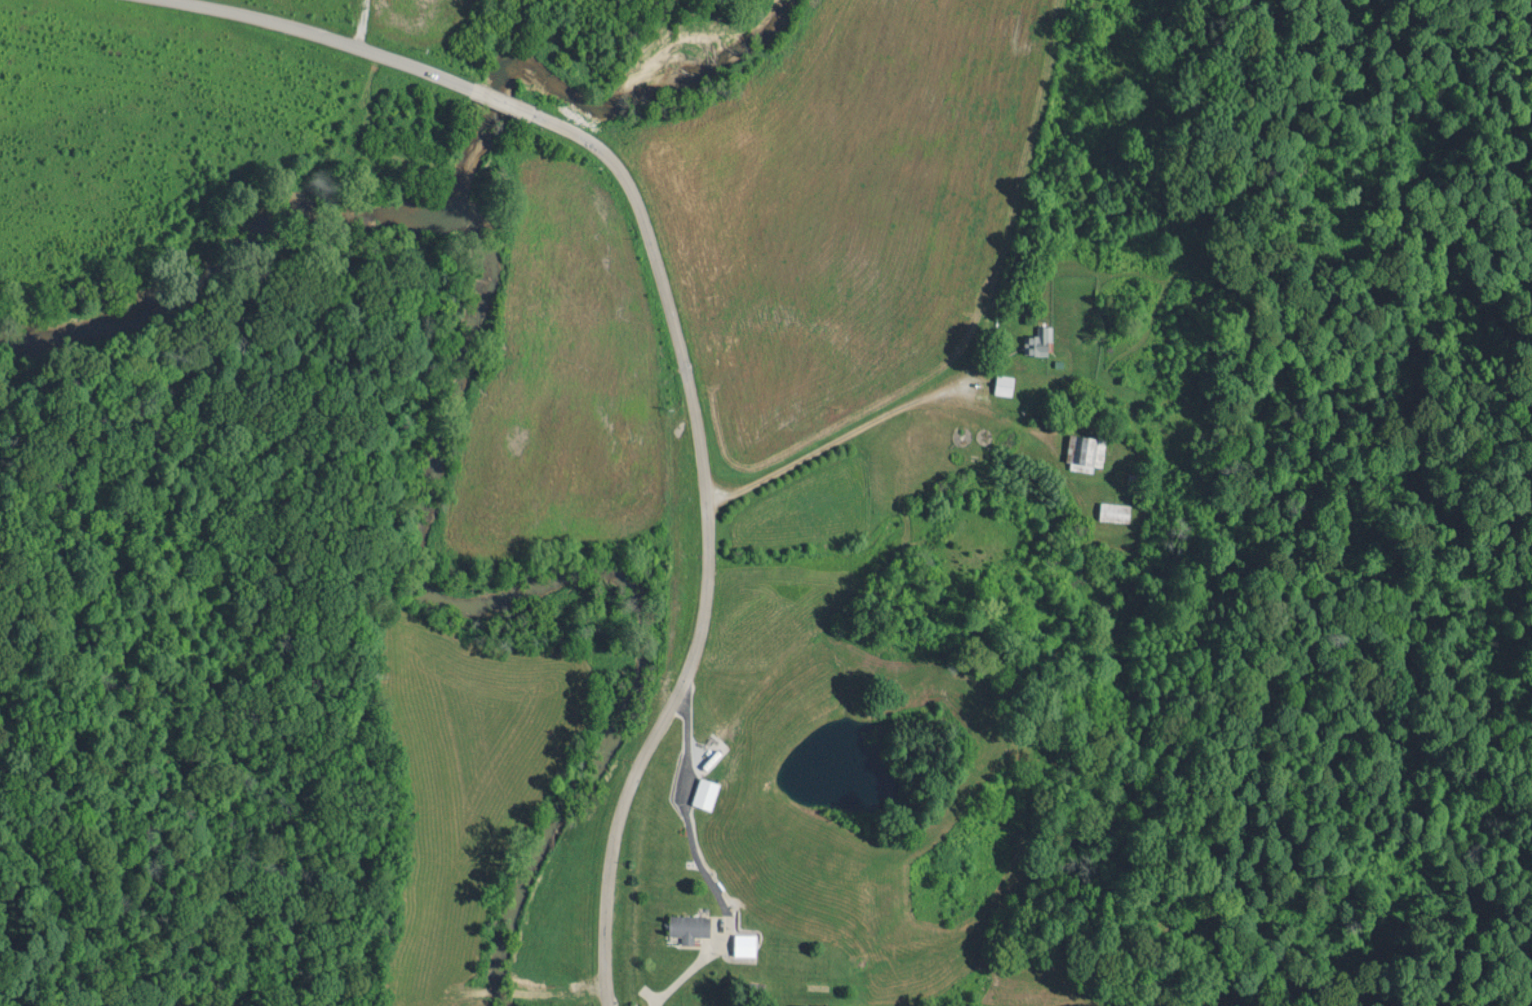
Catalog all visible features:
road: (360, 22)
road: (325, 36)
road: (500, 100)
road: (1016, 193)
river: (222, 259)
building: (1036, 341)
building: (1003, 385)
road: (845, 433)
building: (1084, 449)
building: (1131, 478)
building: (1113, 511)
road: (704, 538)
building: (705, 793)
building: (693, 926)
building: (745, 945)

